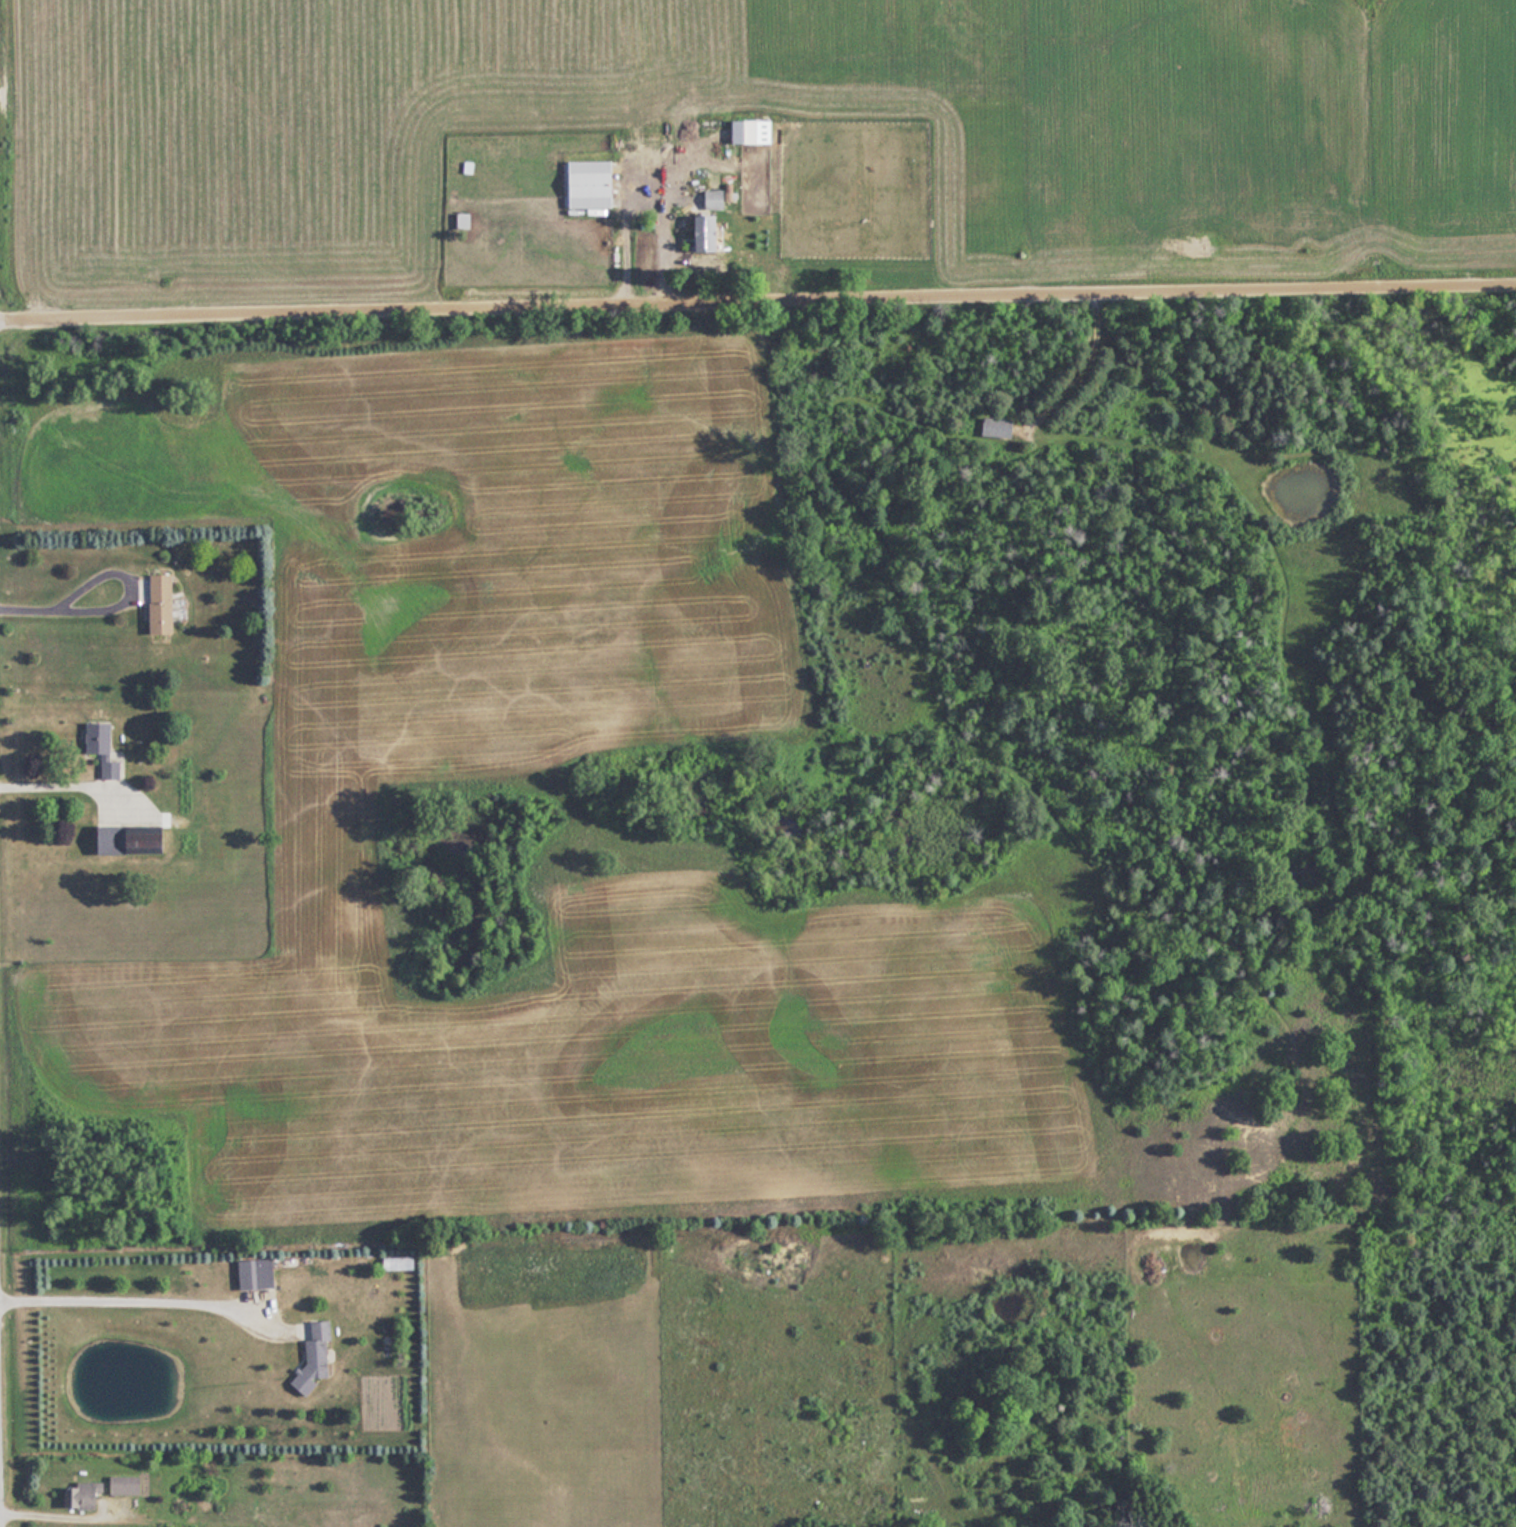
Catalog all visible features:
building: (754, 132)
building: (761, 178)
building: (593, 185)
building: (716, 199)
building: (465, 220)
building: (710, 230)
road: (758, 304)
building: (1000, 427)
building: (163, 605)
road: (69, 608)
building: (104, 748)
road: (65, 784)
building: (113, 840)
building: (253, 1274)
road: (142, 1299)
building: (317, 1356)
building: (127, 1484)
building: (83, 1494)

